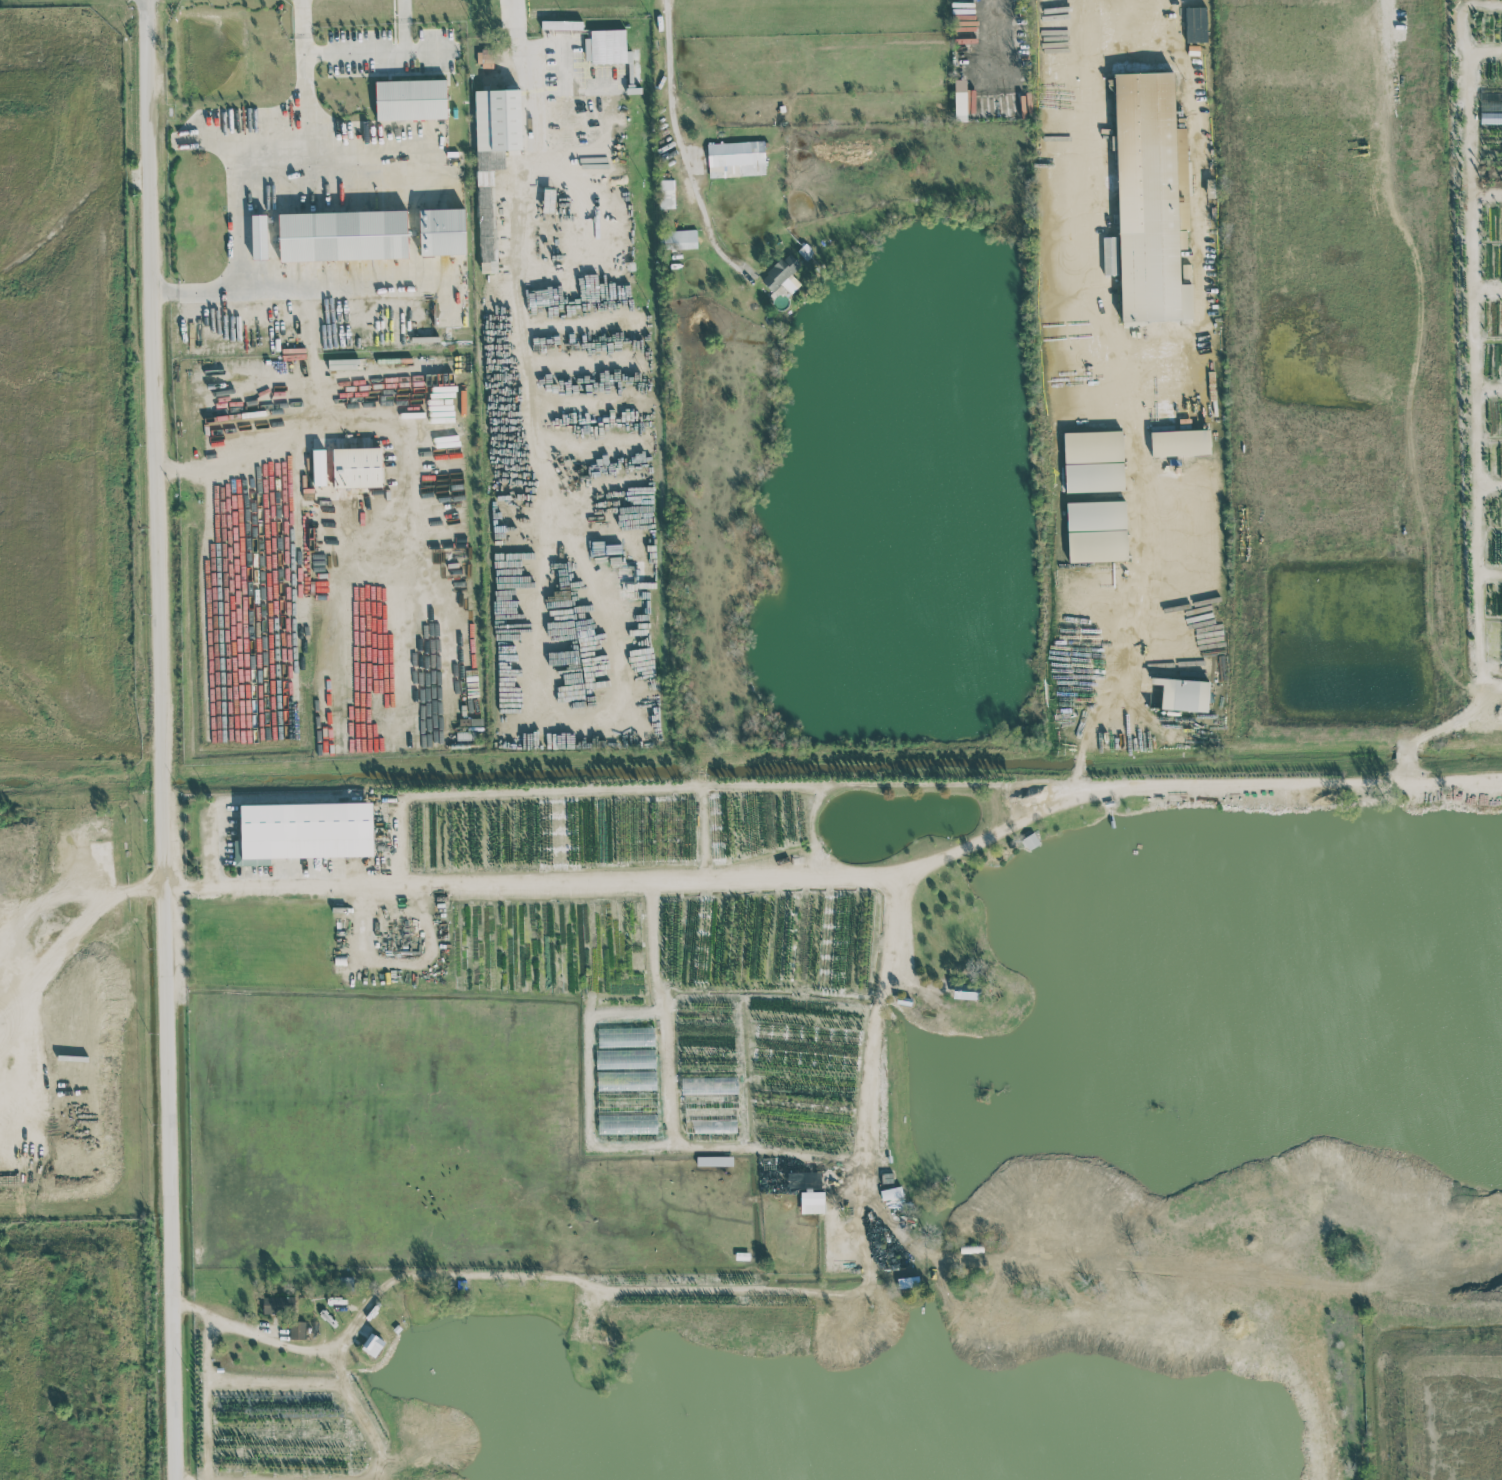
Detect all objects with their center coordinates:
building: (561, 24)
building: (1195, 24)
road: (996, 34)
building: (606, 46)
road: (427, 47)
road: (377, 48)
building: (487, 55)
road: (302, 81)
road: (529, 86)
building: (411, 99)
building: (960, 99)
building: (1495, 105)
road: (682, 137)
building: (493, 158)
building: (736, 158)
road: (274, 164)
building: (666, 193)
building: (1150, 199)
building: (442, 231)
building: (343, 235)
building: (259, 236)
building: (679, 238)
building: (782, 274)
road: (339, 287)
road: (198, 289)
road: (1114, 342)
road: (301, 436)
building: (1180, 442)
building: (1093, 460)
building: (319, 466)
building: (357, 467)
road: (396, 480)
building: (1096, 530)
building: (1183, 694)
road: (160, 740)
building: (303, 831)
building: (1031, 840)
road: (842, 888)
road: (33, 898)
road: (12, 953)
road: (588, 1084)
road: (670, 1112)
building: (714, 1160)
building: (805, 1189)
road: (700, 1288)
building: (278, 1304)
building: (297, 1329)
building: (372, 1344)
road: (360, 1413)
road: (185, 1479)

